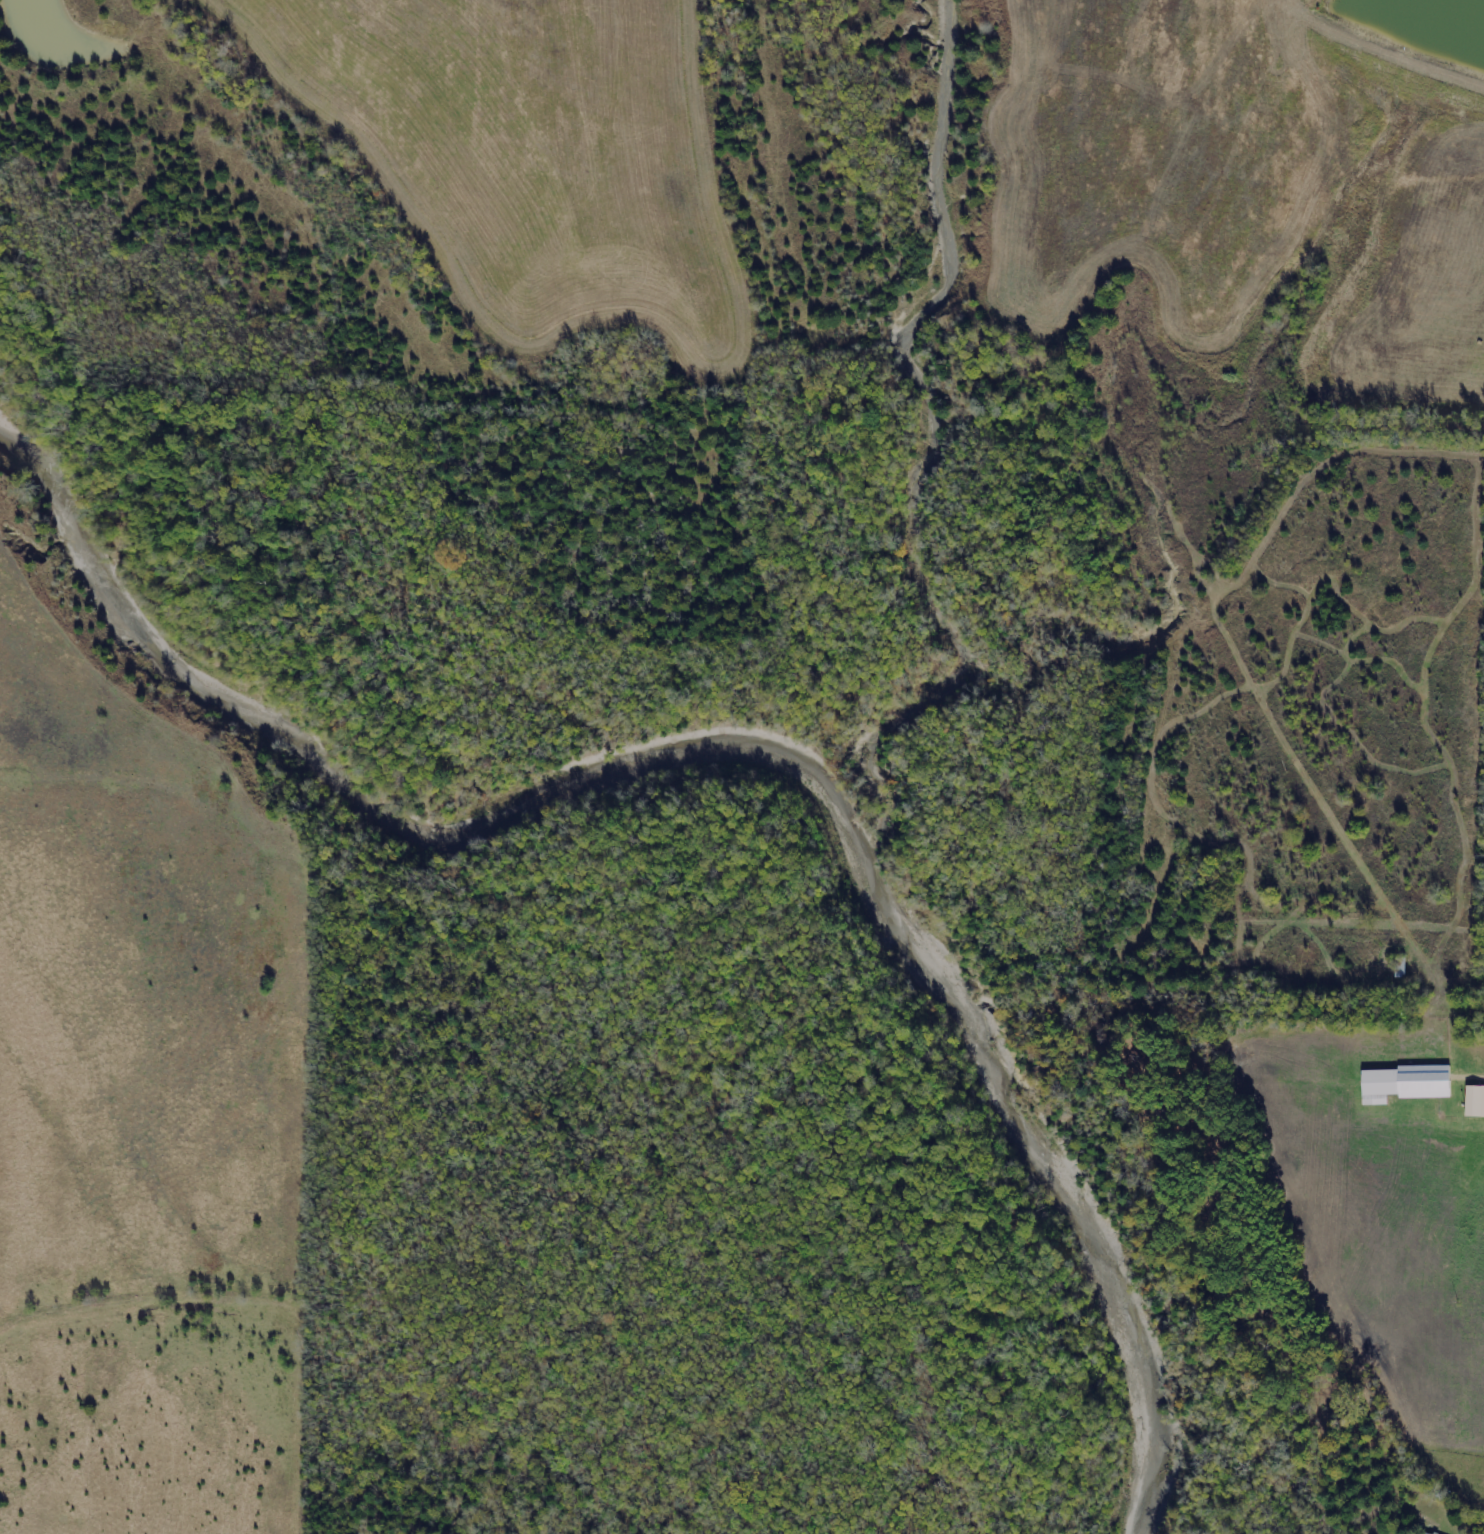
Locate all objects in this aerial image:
building: (1411, 1080)
building: (1476, 1100)
building: (1429, 1533)

